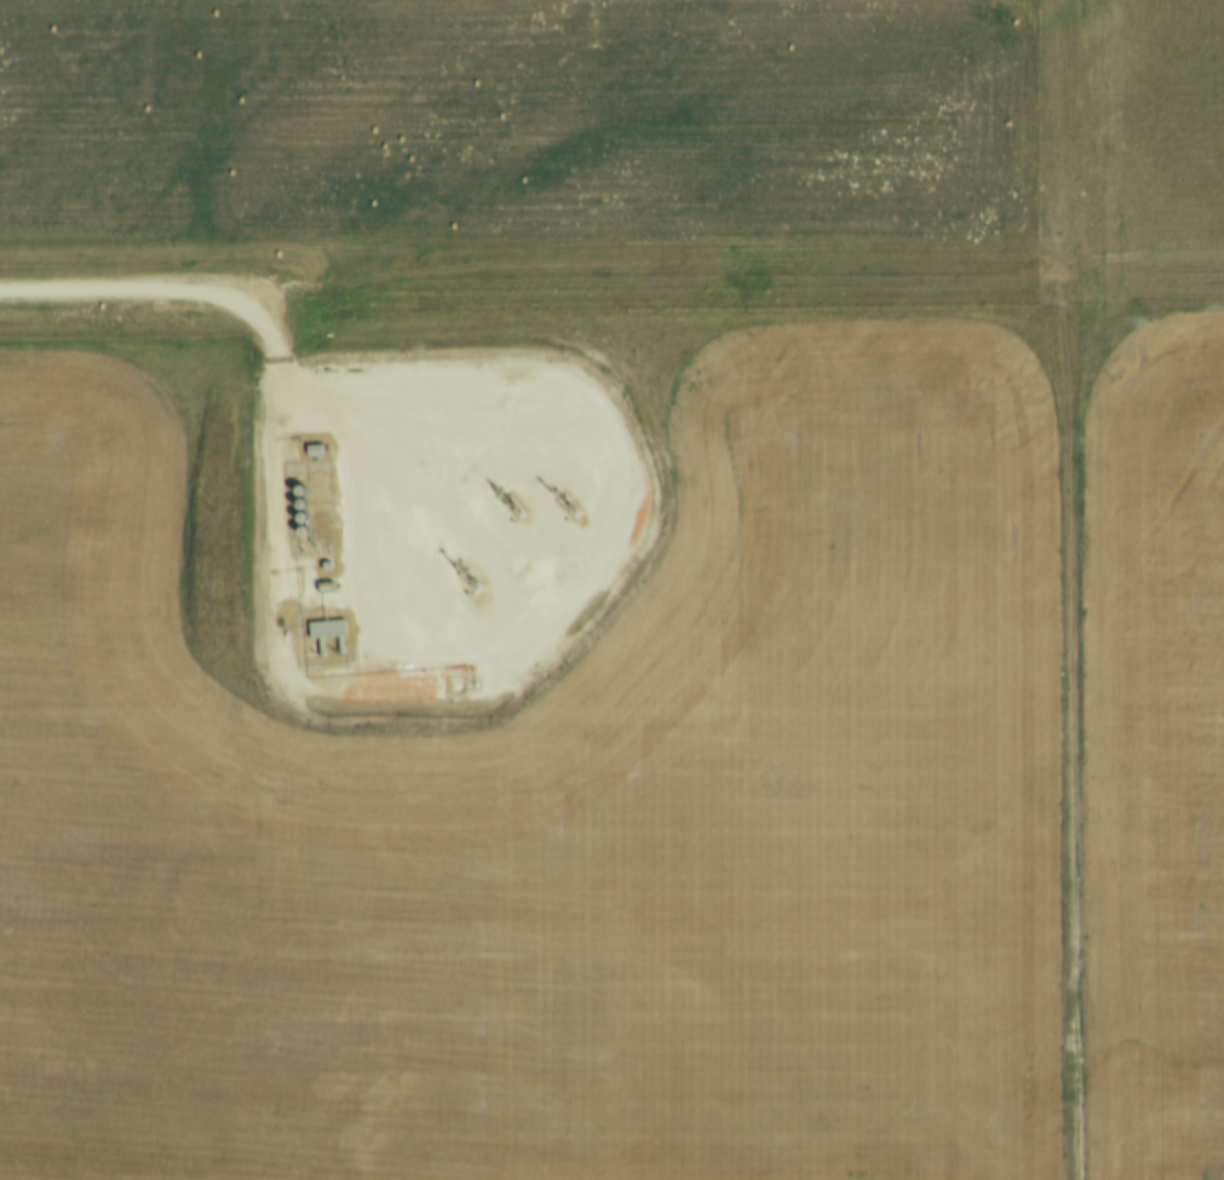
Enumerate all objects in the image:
road: (1065, 721)

